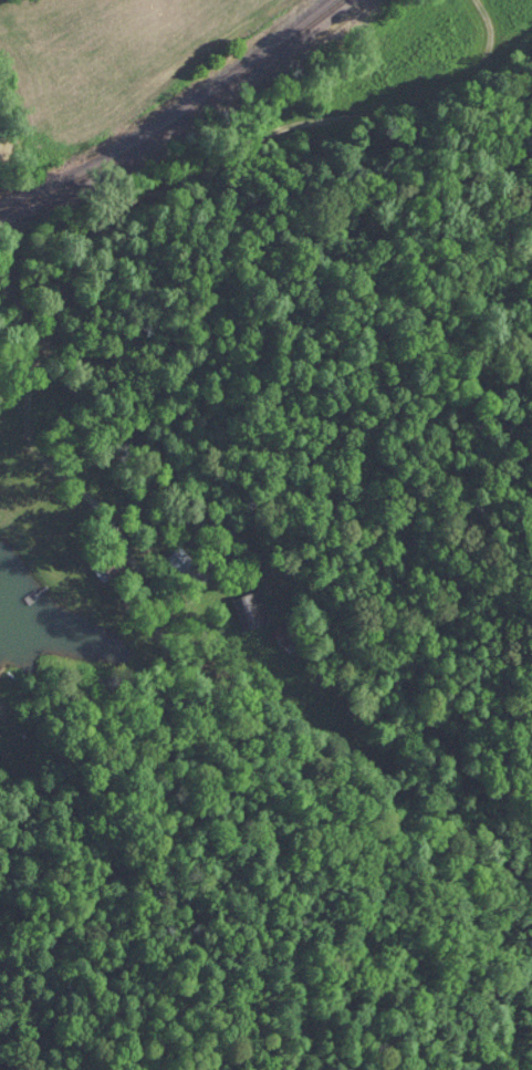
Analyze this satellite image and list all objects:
railway: (180, 121)
road: (126, 214)
building: (180, 560)
building: (106, 565)
building: (250, 611)
building: (288, 638)
road: (227, 668)

